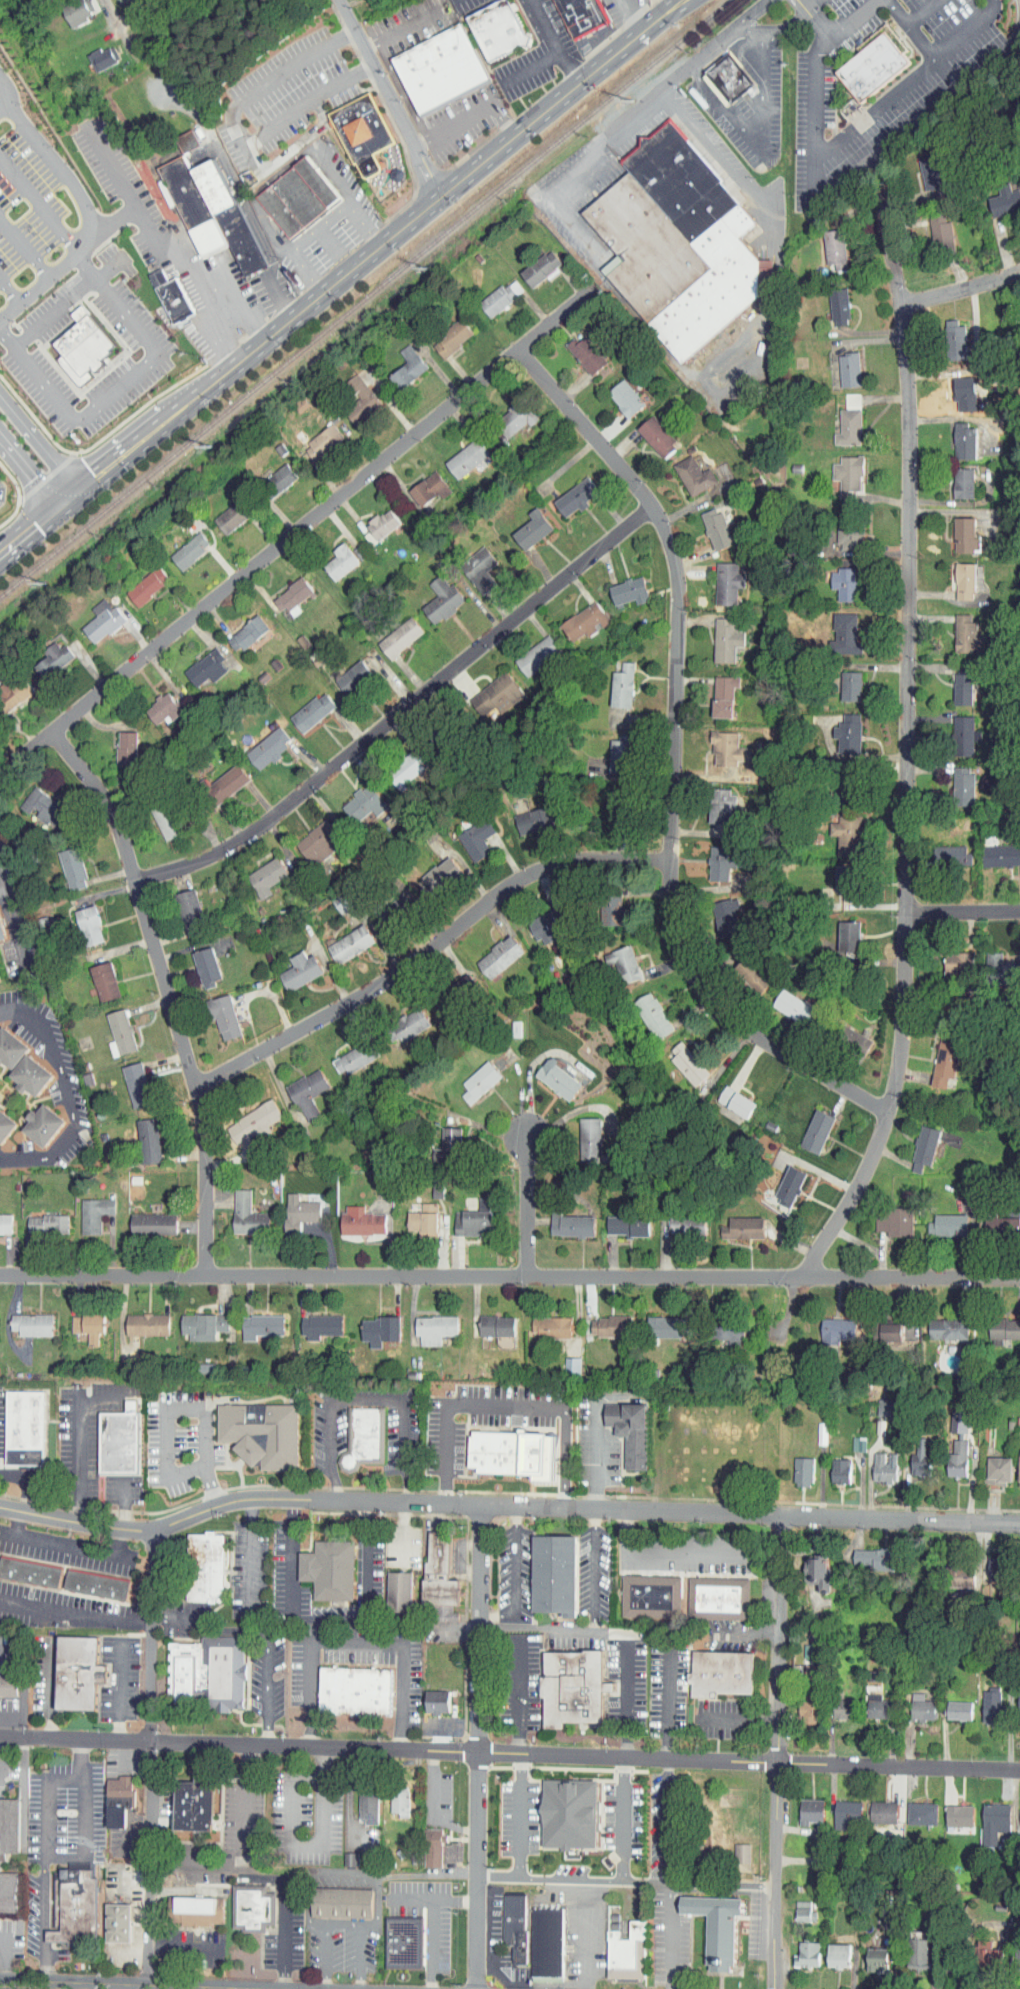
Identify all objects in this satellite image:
building: (115, 1)
road: (811, 4)
building: (69, 8)
road: (922, 11)
building: (571, 13)
road: (634, 16)
road: (814, 17)
building: (488, 24)
road: (775, 27)
road: (126, 31)
road: (1016, 39)
road: (923, 42)
road: (551, 43)
building: (94, 52)
road: (530, 67)
building: (874, 67)
building: (442, 68)
building: (718, 74)
road: (655, 94)
road: (391, 98)
road: (5, 110)
road: (504, 119)
road: (277, 121)
road: (453, 123)
road: (758, 126)
building: (364, 133)
building: (178, 135)
road: (894, 137)
road: (838, 138)
road: (704, 142)
road: (246, 151)
road: (50, 153)
road: (111, 168)
building: (924, 170)
building: (998, 195)
building: (299, 198)
road: (39, 205)
building: (210, 212)
road: (137, 213)
road: (253, 222)
building: (932, 225)
road: (320, 227)
building: (669, 236)
building: (826, 243)
road: (25, 246)
building: (532, 262)
road: (342, 277)
road: (231, 287)
road: (961, 288)
building: (492, 291)
road: (9, 292)
building: (173, 294)
railway: (364, 299)
road: (65, 300)
building: (829, 302)
building: (442, 333)
building: (949, 335)
building: (84, 344)
building: (578, 349)
building: (399, 361)
building: (718, 363)
building: (840, 364)
road: (118, 383)
building: (956, 388)
building: (617, 393)
building: (841, 395)
building: (351, 396)
building: (508, 411)
building: (840, 422)
building: (648, 430)
building: (956, 435)
building: (314, 436)
road: (39, 444)
building: (459, 452)
building: (275, 470)
building: (685, 470)
road: (29, 471)
building: (839, 471)
building: (955, 478)
building: (420, 483)
building: (566, 492)
traffic signals: (68, 498)
building: (223, 511)
building: (374, 518)
building: (707, 523)
building: (524, 524)
building: (957, 530)
road: (300, 532)
building: (842, 533)
building: (181, 545)
building: (332, 556)
building: (470, 563)
building: (956, 575)
building: (719, 577)
building: (835, 578)
building: (138, 580)
building: (620, 585)
building: (284, 591)
building: (433, 594)
building: (93, 615)
building: (576, 616)
building: (242, 627)
building: (837, 628)
building: (957, 628)
building: (392, 632)
building: (717, 634)
building: (528, 650)
building: (47, 655)
building: (198, 662)
building: (344, 671)
building: (613, 680)
building: (842, 681)
building: (955, 684)
building: (10, 686)
building: (488, 689)
building: (715, 690)
building: (156, 703)
building: (304, 706)
road: (403, 709)
building: (839, 728)
building: (956, 730)
building: (260, 742)
building: (118, 743)
building: (719, 743)
road: (907, 749)
building: (612, 750)
road: (674, 760)
building: (398, 763)
building: (954, 776)
building: (219, 777)
building: (355, 798)
building: (713, 801)
building: (35, 803)
building: (525, 815)
building: (155, 817)
building: (467, 834)
building: (309, 837)
building: (839, 847)
building: (943, 850)
building: (993, 850)
building: (712, 857)
building: (63, 863)
building: (257, 871)
building: (432, 872)
building: (331, 896)
building: (181, 906)
road: (963, 911)
building: (718, 912)
road: (11, 918)
building: (80, 920)
building: (532, 922)
building: (840, 931)
building: (342, 939)
road: (430, 947)
building: (491, 951)
building: (985, 957)
building: (614, 959)
building: (946, 960)
building: (197, 961)
building: (291, 965)
building: (95, 977)
road: (170, 993)
building: (784, 1001)
building: (643, 1010)
building: (216, 1012)
building: (404, 1018)
building: (111, 1028)
building: (853, 1036)
building: (7, 1046)
building: (345, 1052)
building: (936, 1056)
building: (678, 1059)
building: (23, 1071)
building: (550, 1074)
building: (470, 1076)
building: (128, 1080)
building: (299, 1088)
road: (70, 1095)
building: (727, 1097)
building: (246, 1116)
building: (3, 1119)
building: (35, 1120)
building: (807, 1126)
building: (581, 1132)
building: (140, 1135)
building: (439, 1141)
building: (915, 1143)
building: (780, 1181)
road: (528, 1202)
building: (291, 1207)
building: (85, 1209)
building: (239, 1210)
building: (466, 1214)
building: (415, 1215)
building: (353, 1216)
building: (887, 1217)
building: (1, 1218)
building: (1003, 1218)
building: (38, 1219)
building: (144, 1219)
building: (563, 1220)
building: (679, 1220)
building: (940, 1220)
building: (620, 1221)
building: (735, 1223)
road: (510, 1273)
building: (139, 1318)
building: (195, 1319)
building: (252, 1319)
building: (489, 1319)
building: (80, 1320)
building: (312, 1320)
building: (543, 1320)
building: (601, 1320)
building: (657, 1320)
building: (426, 1322)
building: (940, 1322)
building: (998, 1323)
building: (35, 1324)
building: (371, 1324)
building: (827, 1324)
building: (889, 1324)
building: (723, 1325)
building: (92, 1326)
building: (562, 1358)
road: (369, 1399)
building: (875, 1401)
road: (184, 1407)
road: (457, 1407)
building: (951, 1415)
building: (812, 1427)
building: (27, 1428)
building: (632, 1430)
building: (262, 1432)
building: (365, 1437)
building: (849, 1437)
building: (121, 1440)
road: (595, 1440)
road: (77, 1443)
building: (949, 1452)
building: (516, 1453)
building: (911, 1454)
road: (564, 1457)
building: (1015, 1457)
building: (874, 1463)
building: (992, 1464)
building: (795, 1465)
building: (832, 1465)
road: (385, 1500)
road: (121, 1503)
road: (899, 1517)
road: (402, 1532)
road: (65, 1547)
road: (682, 1551)
building: (866, 1553)
road: (250, 1555)
building: (990, 1563)
building: (810, 1565)
building: (206, 1567)
road: (594, 1569)
building: (953, 1570)
building: (30, 1571)
building: (331, 1571)
building: (440, 1571)
road: (514, 1573)
building: (556, 1573)
building: (99, 1585)
building: (400, 1590)
building: (652, 1595)
building: (720, 1598)
road: (76, 1612)
road: (328, 1617)
road: (210, 1630)
road: (617, 1633)
road: (356, 1641)
building: (799, 1645)
road: (5, 1650)
building: (208, 1672)
building: (724, 1672)
building: (81, 1674)
building: (10, 1685)
building: (575, 1686)
road: (50, 1689)
road: (118, 1690)
building: (356, 1690)
road: (267, 1692)
road: (519, 1692)
building: (1015, 1694)
building: (428, 1695)
building: (983, 1699)
road: (666, 1700)
building: (870, 1700)
building: (835, 1702)
building: (439, 1703)
building: (801, 1703)
building: (912, 1703)
building: (950, 1704)
road: (740, 1719)
road: (481, 1745)
road: (390, 1750)
road: (780, 1751)
road: (2, 1757)
road: (152, 1758)
road: (900, 1765)
road: (64, 1777)
building: (110, 1794)
building: (391, 1796)
building: (359, 1799)
building: (402, 1800)
building: (120, 1801)
building: (195, 1804)
building: (370, 1804)
building: (802, 1805)
building: (875, 1806)
building: (913, 1807)
road: (345, 1808)
building: (838, 1809)
building: (950, 1810)
road: (430, 1812)
building: (1016, 1812)
building: (571, 1815)
building: (985, 1815)
road: (517, 1816)
road: (45, 1817)
road: (80, 1817)
road: (621, 1819)
road: (664, 1820)
building: (10, 1827)
road: (305, 1845)
road: (241, 1848)
building: (733, 1849)
building: (341, 1853)
building: (351, 1859)
road: (345, 1872)
road: (428, 1874)
road: (629, 1881)
building: (9, 1892)
road: (411, 1898)
building: (344, 1903)
building: (77, 1906)
building: (795, 1906)
building: (251, 1907)
building: (197, 1910)
road: (284, 1912)
building: (107, 1916)
building: (505, 1919)
road: (433, 1921)
road: (43, 1922)
building: (118, 1922)
road: (341, 1923)
building: (516, 1925)
building: (720, 1928)
road: (583, 1934)
road: (670, 1935)
building: (405, 1941)
building: (549, 1942)
road: (181, 1947)
building: (910, 1948)
building: (798, 1949)
building: (1014, 1949)
building: (829, 1950)
building: (629, 1953)
building: (869, 1954)
road: (4, 1959)
road: (41, 1987)
road: (91, 1987)
road: (78, 1988)

